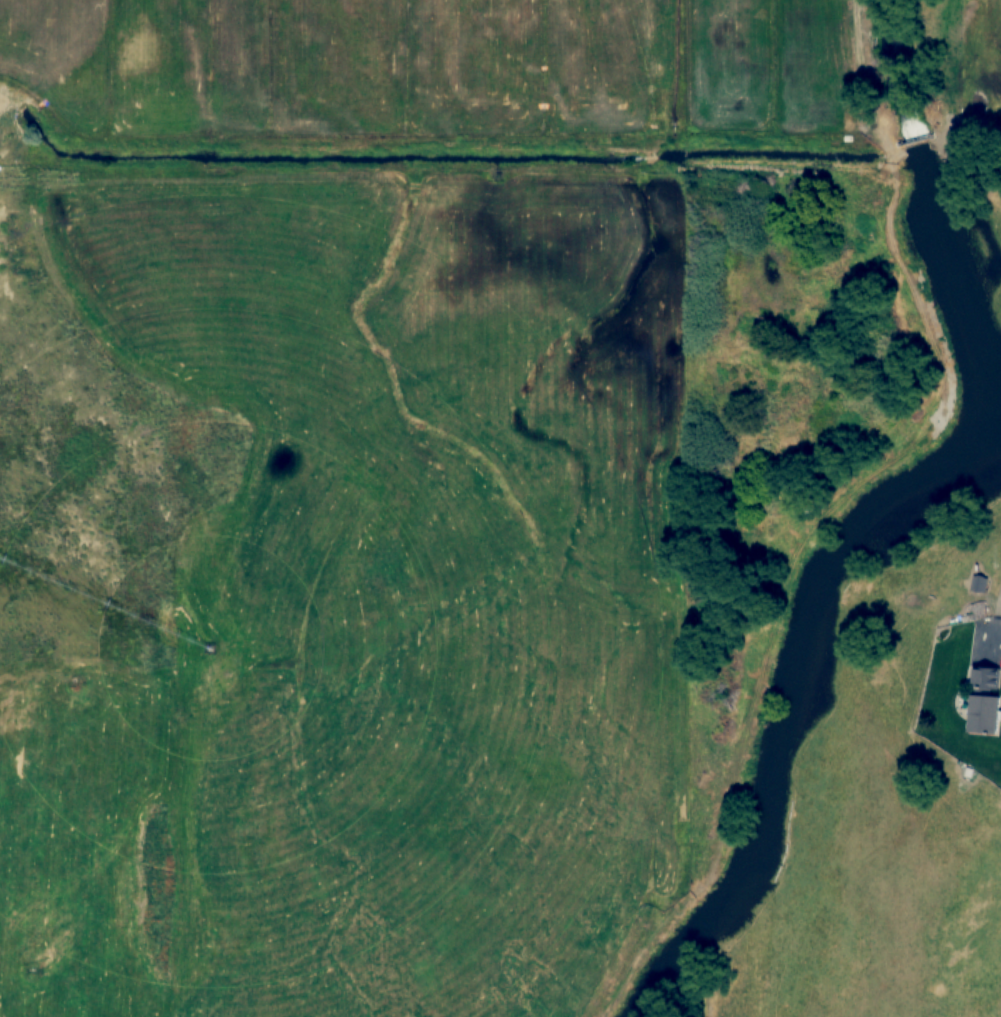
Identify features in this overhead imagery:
building: (910, 125)
river: (877, 506)
building: (979, 584)
building: (984, 700)

